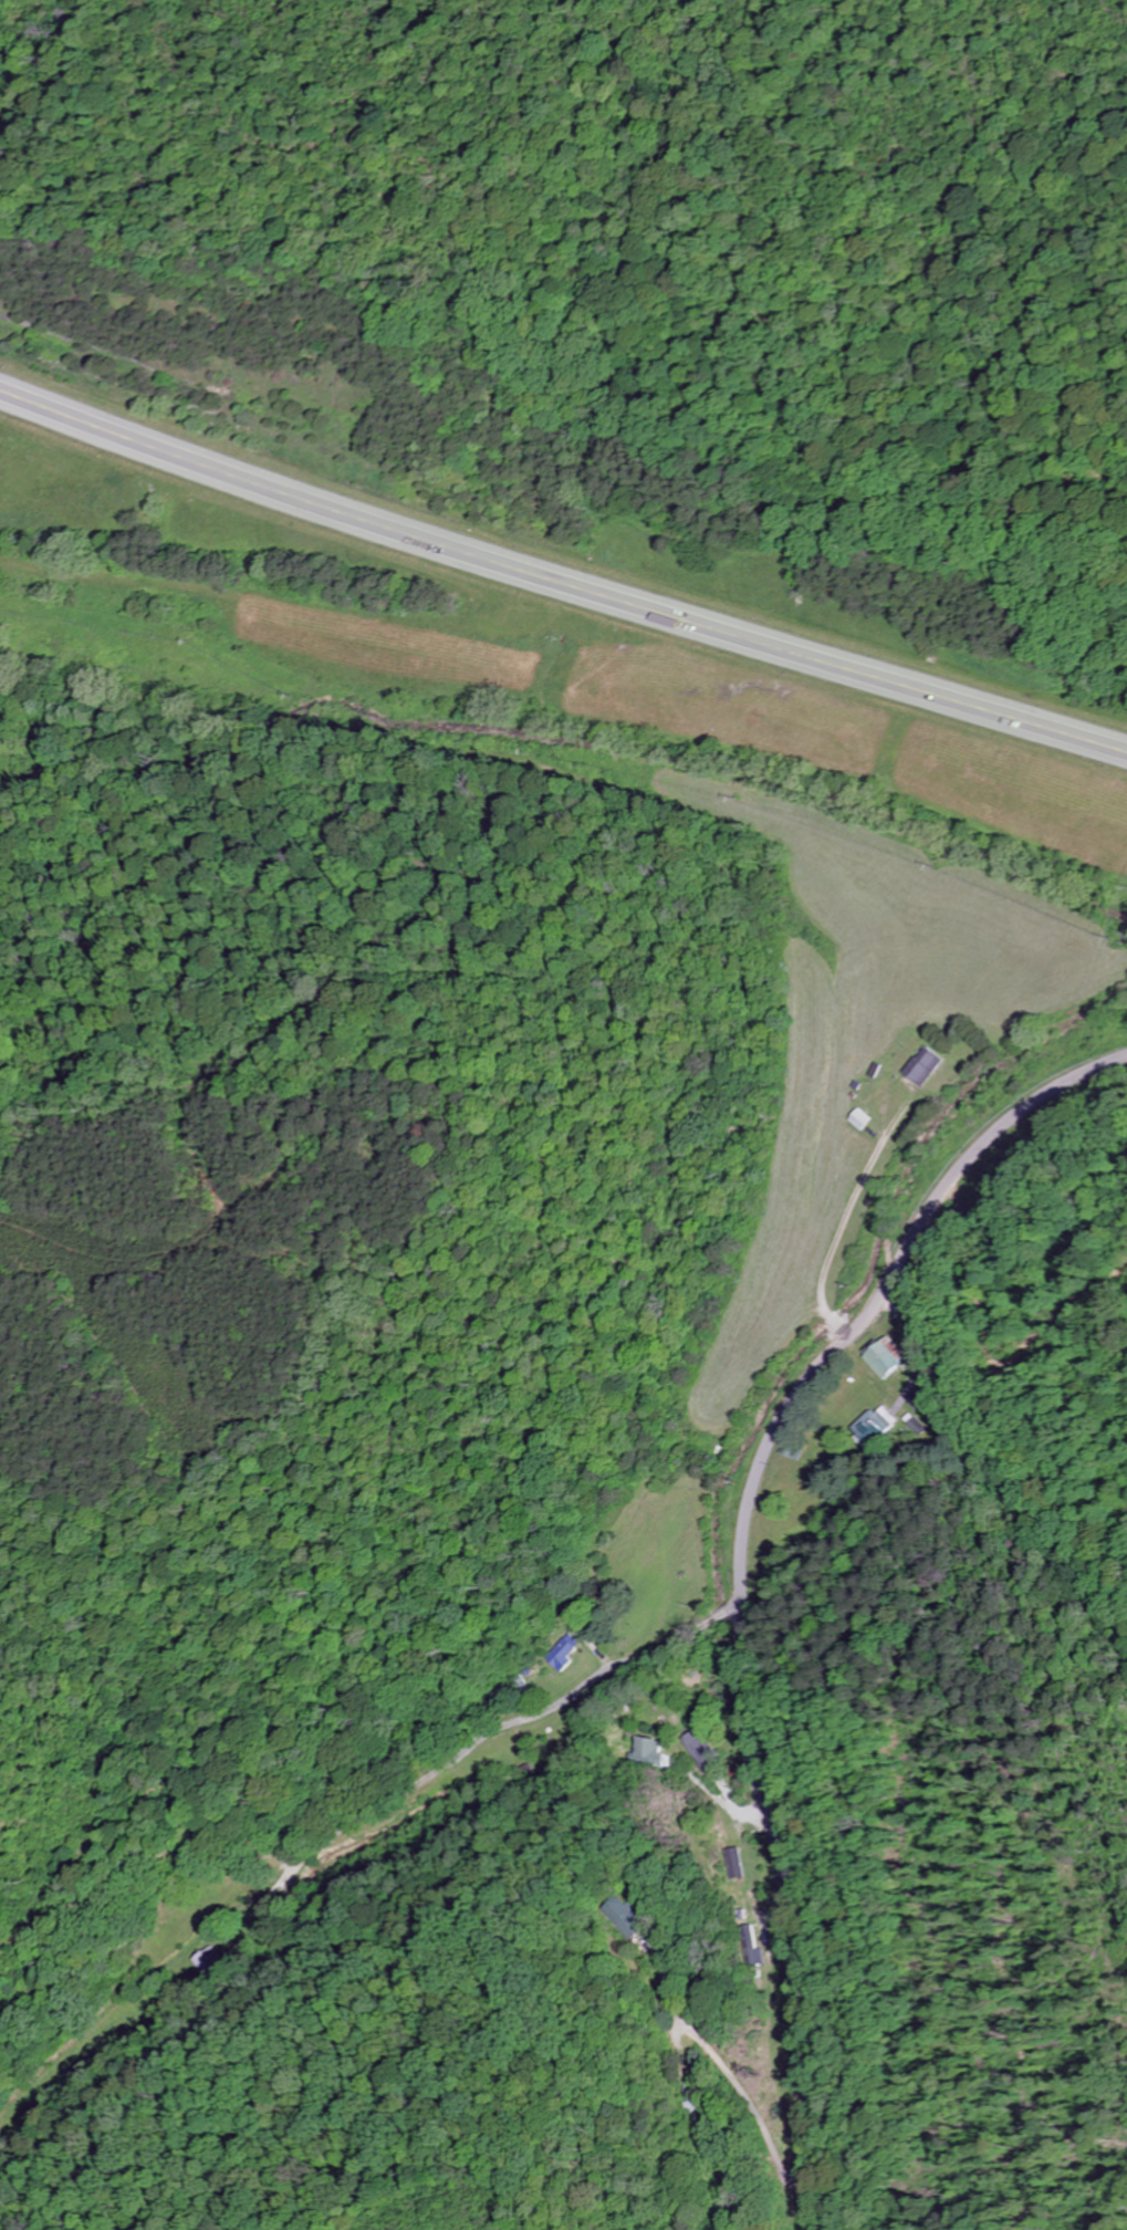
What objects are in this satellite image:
road: (560, 583)
building: (921, 1069)
road: (838, 1236)
building: (884, 1358)
building: (885, 1421)
building: (864, 1431)
road: (739, 1569)
building: (650, 1752)
road: (732, 1813)
road: (364, 1815)
road: (719, 2066)

